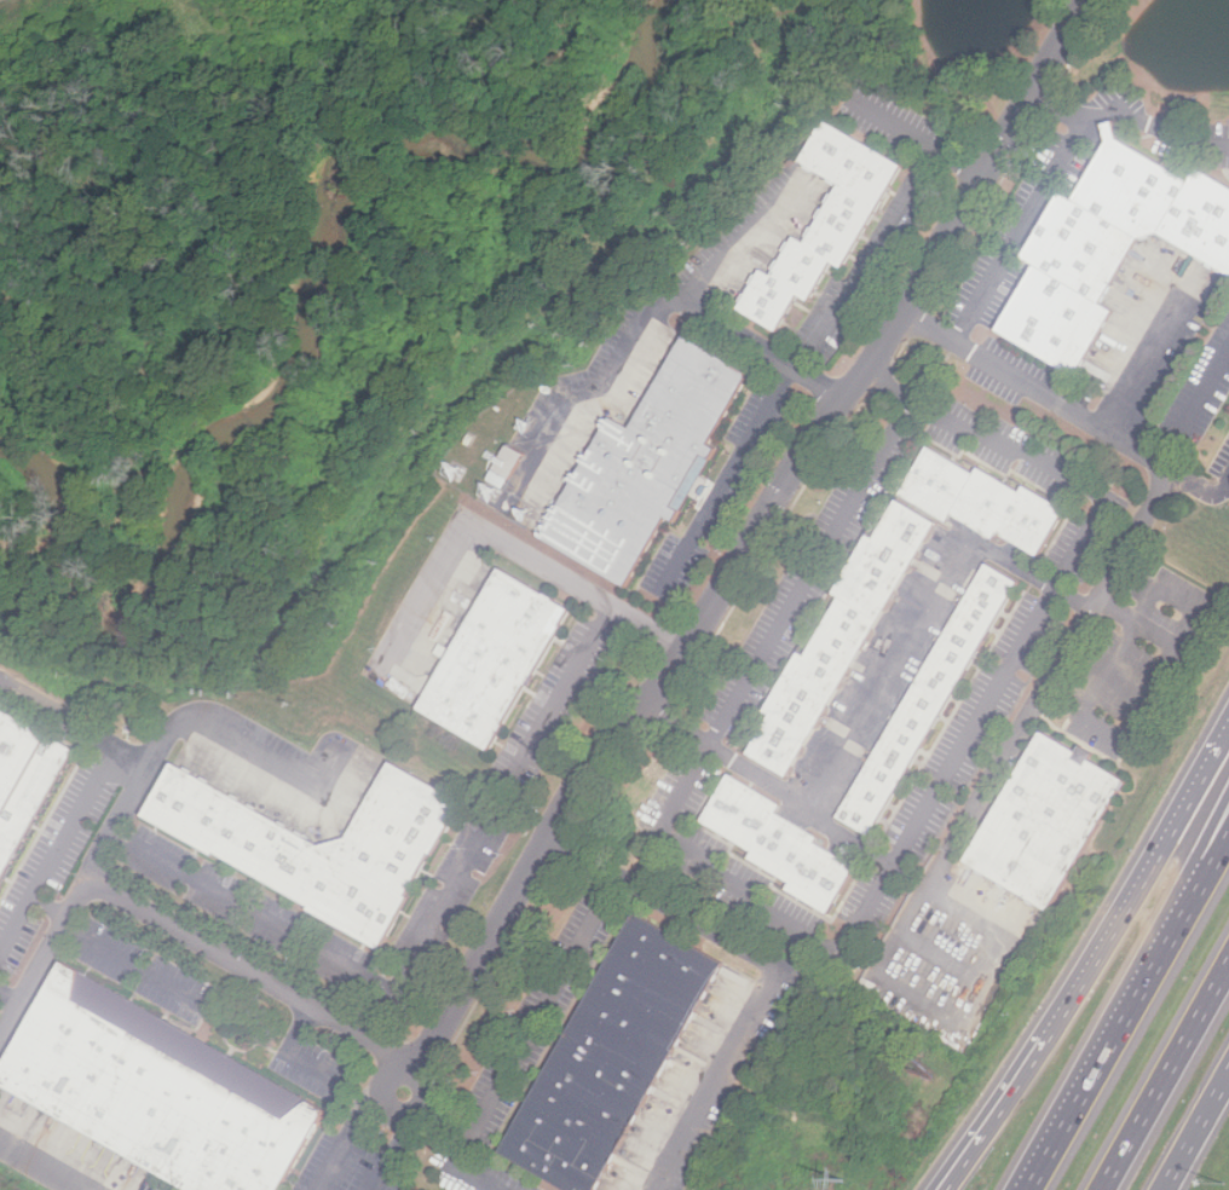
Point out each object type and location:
road: (1058, 108)
road: (960, 162)
road: (1057, 164)
building: (820, 223)
road: (735, 237)
building: (1107, 245)
road: (647, 308)
road: (824, 328)
river: (305, 348)
road: (1143, 366)
road: (1194, 409)
building: (640, 464)
road: (1199, 487)
building: (975, 499)
road: (1137, 524)
road: (509, 544)
road: (748, 549)
road: (1075, 599)
building: (838, 637)
building: (491, 657)
road: (1154, 682)
road: (565, 686)
building: (924, 697)
road: (163, 743)
building: (23, 775)
road: (772, 785)
building: (1039, 820)
road: (117, 822)
building: (312, 842)
building: (774, 842)
road: (58, 849)
road: (1178, 896)
road: (50, 906)
road: (253, 913)
road: (439, 913)
road: (1178, 915)
road: (859, 925)
road: (174, 929)
road: (1091, 963)
road: (129, 965)
road: (773, 965)
road: (547, 1003)
road: (382, 1016)
road: (289, 1053)
building: (607, 1055)
road: (1165, 1076)
building: (152, 1090)
road: (1074, 1096)
road: (350, 1125)
road: (1195, 1131)
road: (473, 1134)
road: (397, 1143)
road: (45, 1167)

